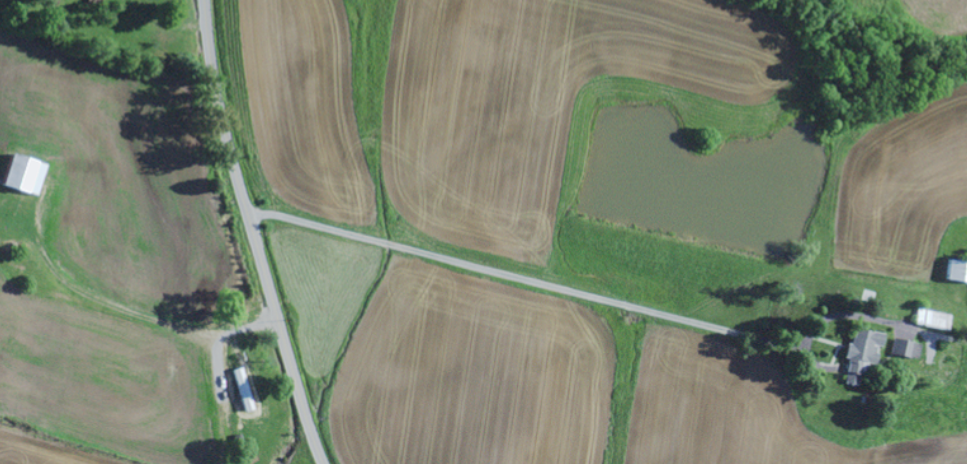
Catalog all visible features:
building: (20, 175)
road: (252, 234)
road: (120, 251)
building: (956, 271)
building: (932, 320)
building: (905, 349)
building: (861, 354)

